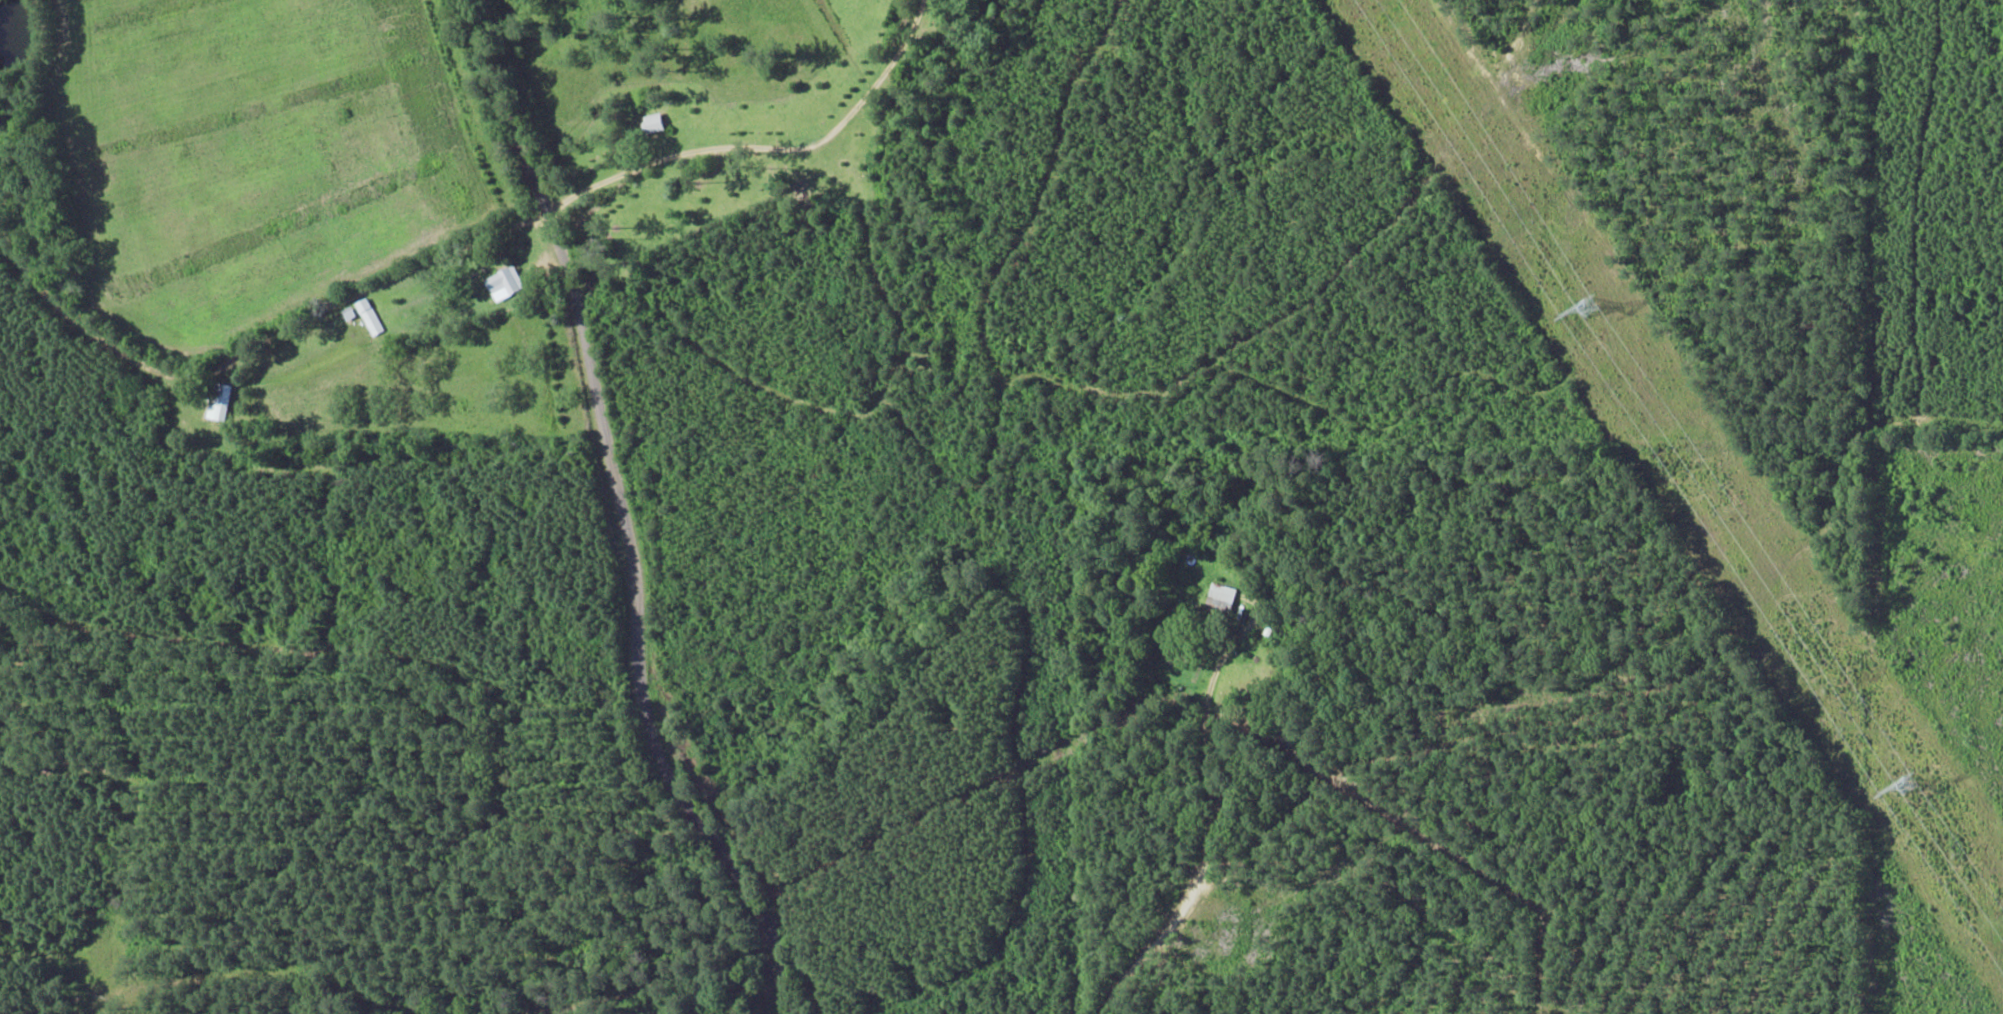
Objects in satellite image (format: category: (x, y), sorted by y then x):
building: (651, 124)
building: (502, 284)
road: (478, 296)
power tower: (1588, 311)
building: (217, 402)
road: (602, 513)
building: (1218, 598)
power tower: (1909, 789)
road: (1205, 841)

